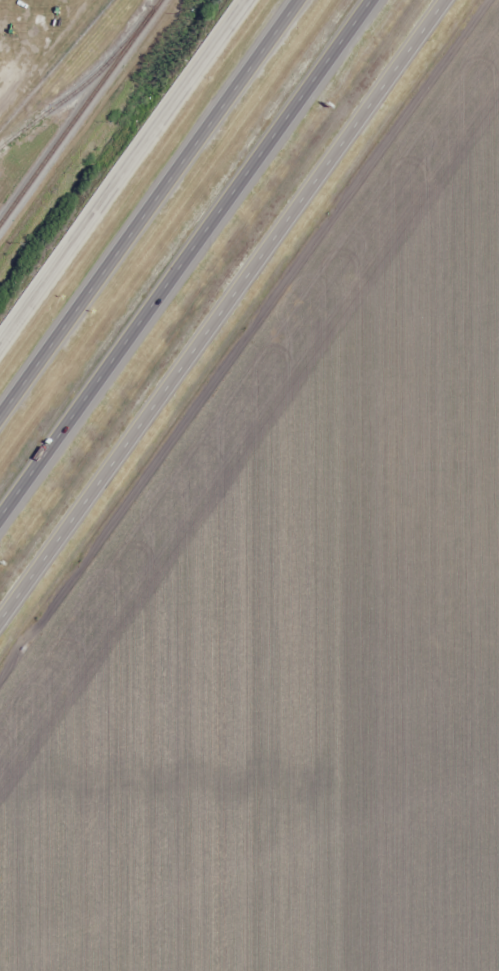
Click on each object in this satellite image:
railway: (83, 85)
railway: (79, 111)
road: (123, 172)
road: (149, 207)
road: (184, 257)
road: (221, 309)

